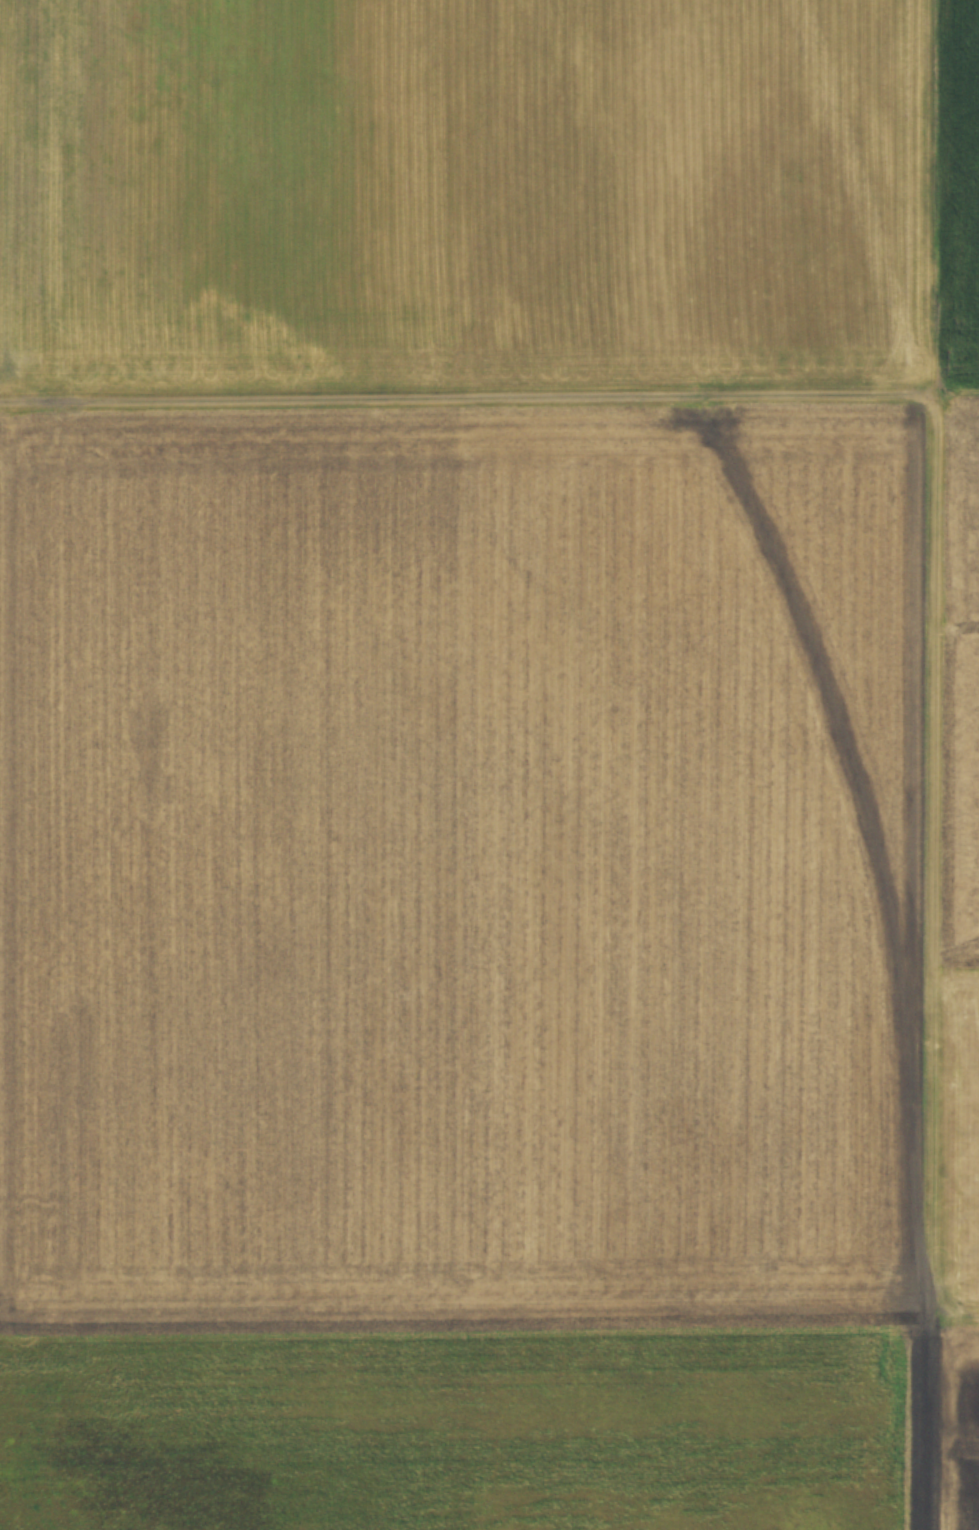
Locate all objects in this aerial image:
road: (466, 401)

